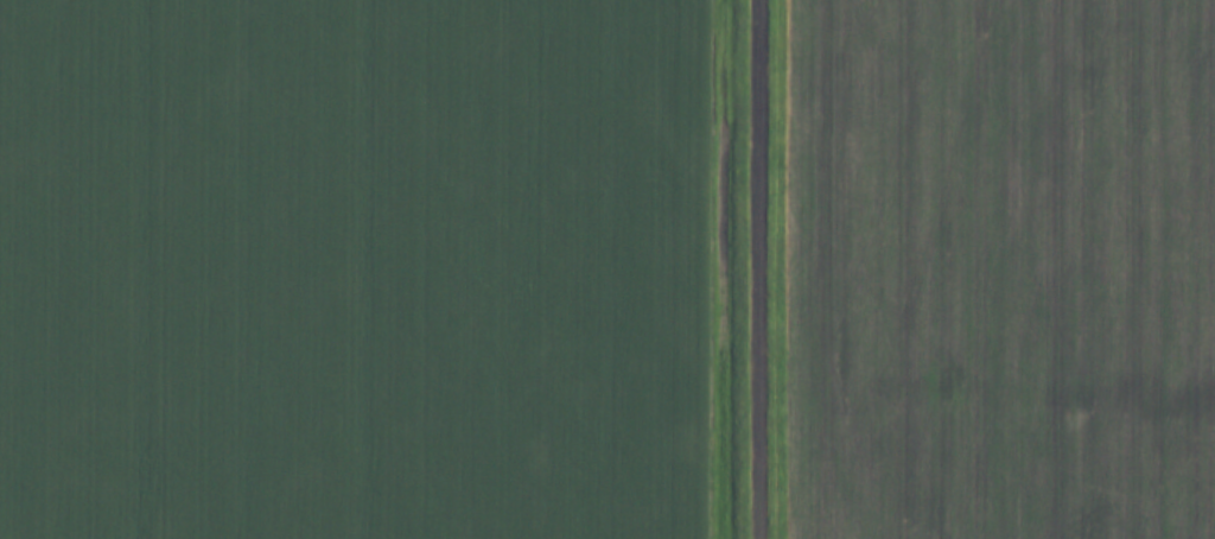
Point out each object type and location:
road: (768, 269)

